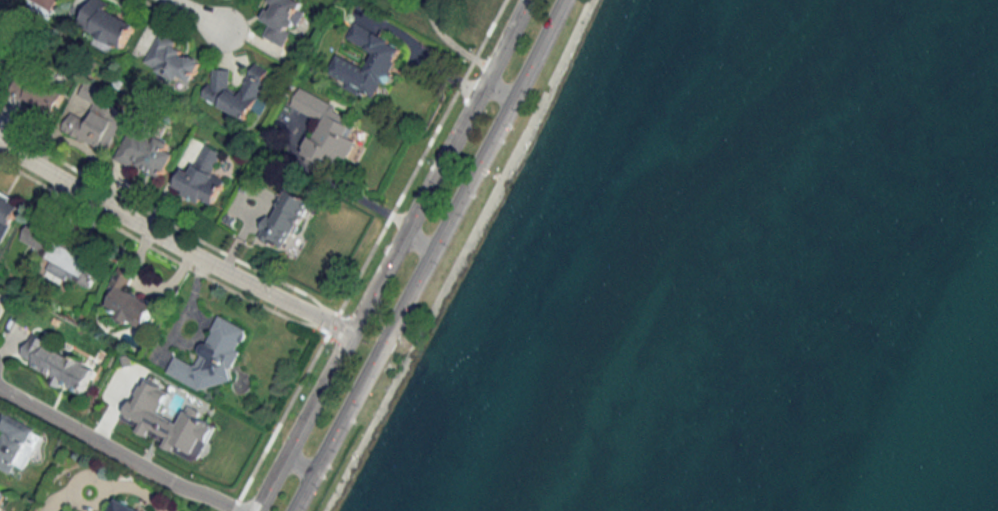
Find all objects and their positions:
building: (50, 3)
road: (200, 14)
building: (282, 20)
building: (108, 23)
road: (451, 43)
road: (423, 57)
building: (1, 59)
building: (171, 59)
building: (383, 61)
building: (219, 90)
road: (500, 92)
building: (43, 95)
building: (94, 119)
building: (327, 130)
building: (145, 151)
building: (201, 178)
road: (336, 186)
building: (7, 214)
building: (285, 218)
road: (417, 240)
road: (171, 244)
road: (389, 254)
road: (429, 255)
building: (63, 257)
building: (127, 303)
building: (214, 356)
building: (58, 364)
building: (167, 424)
building: (17, 443)
road: (119, 450)
road: (297, 464)
road: (134, 488)
building: (123, 506)

